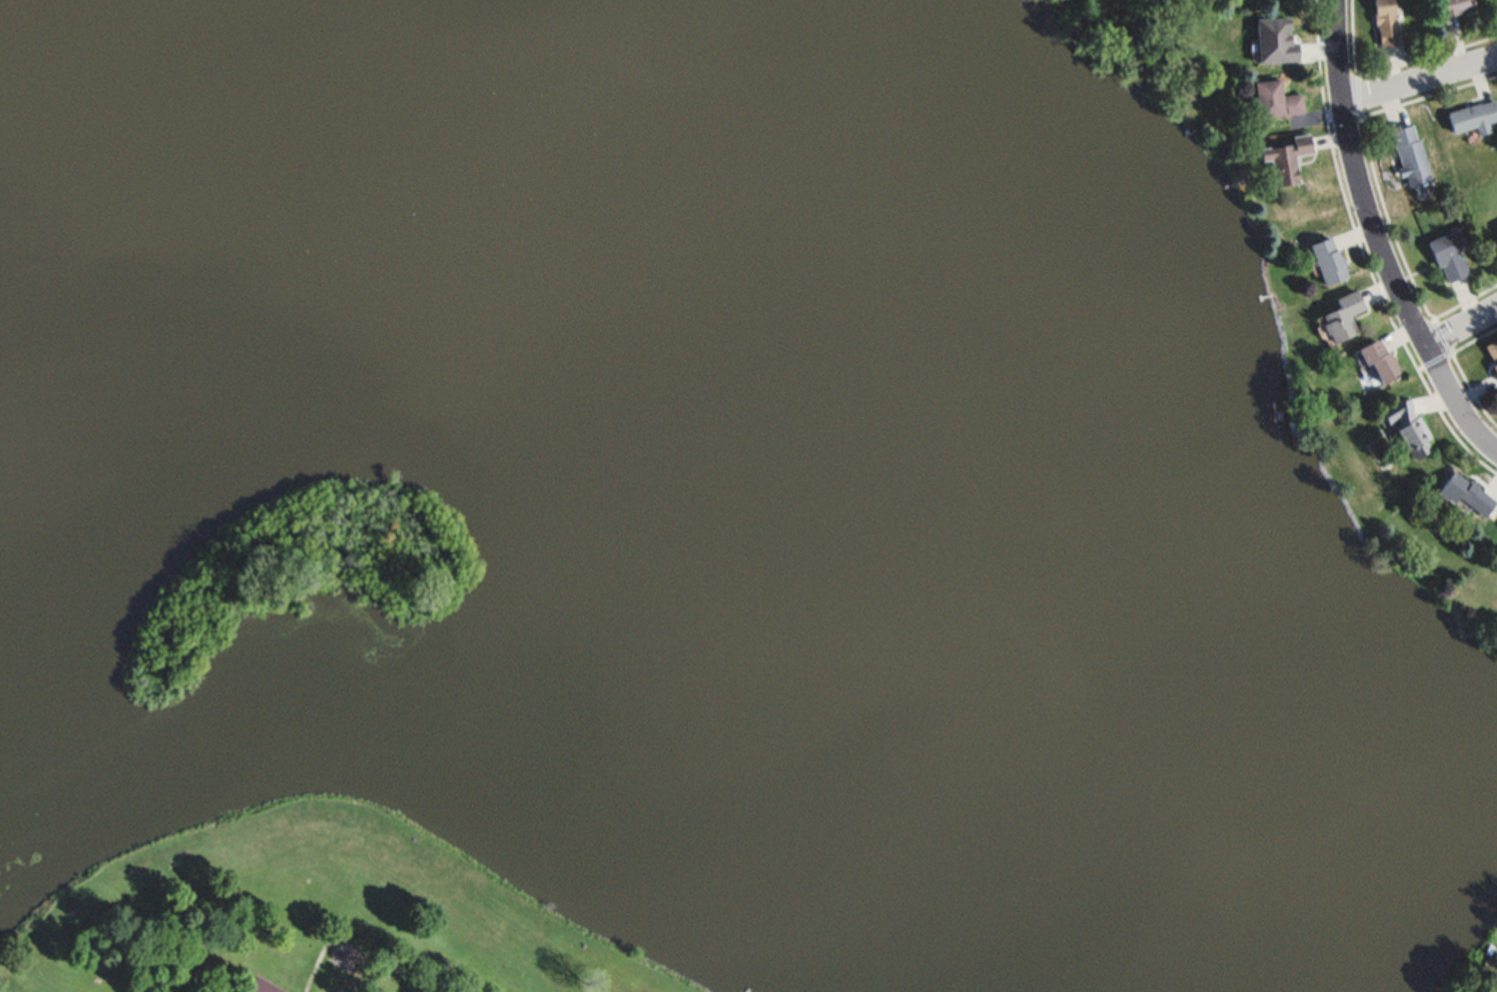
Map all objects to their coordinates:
building: (1231, 2)
road: (1337, 4)
building: (1455, 7)
building: (1386, 22)
park: (1154, 40)
building: (1275, 40)
road: (1420, 80)
building: (1276, 100)
building: (1472, 115)
building: (1411, 155)
building: (1286, 159)
building: (1495, 241)
road: (1379, 244)
building: (1448, 257)
building: (1327, 261)
building: (1342, 316)
road: (1462, 327)
building: (1492, 353)
building: (1378, 360)
building: (1407, 427)
river: (848, 461)
building: (1466, 493)
park: (291, 579)
park: (300, 917)
building: (1487, 949)
building: (344, 959)
building: (1489, 970)
building: (263, 985)

